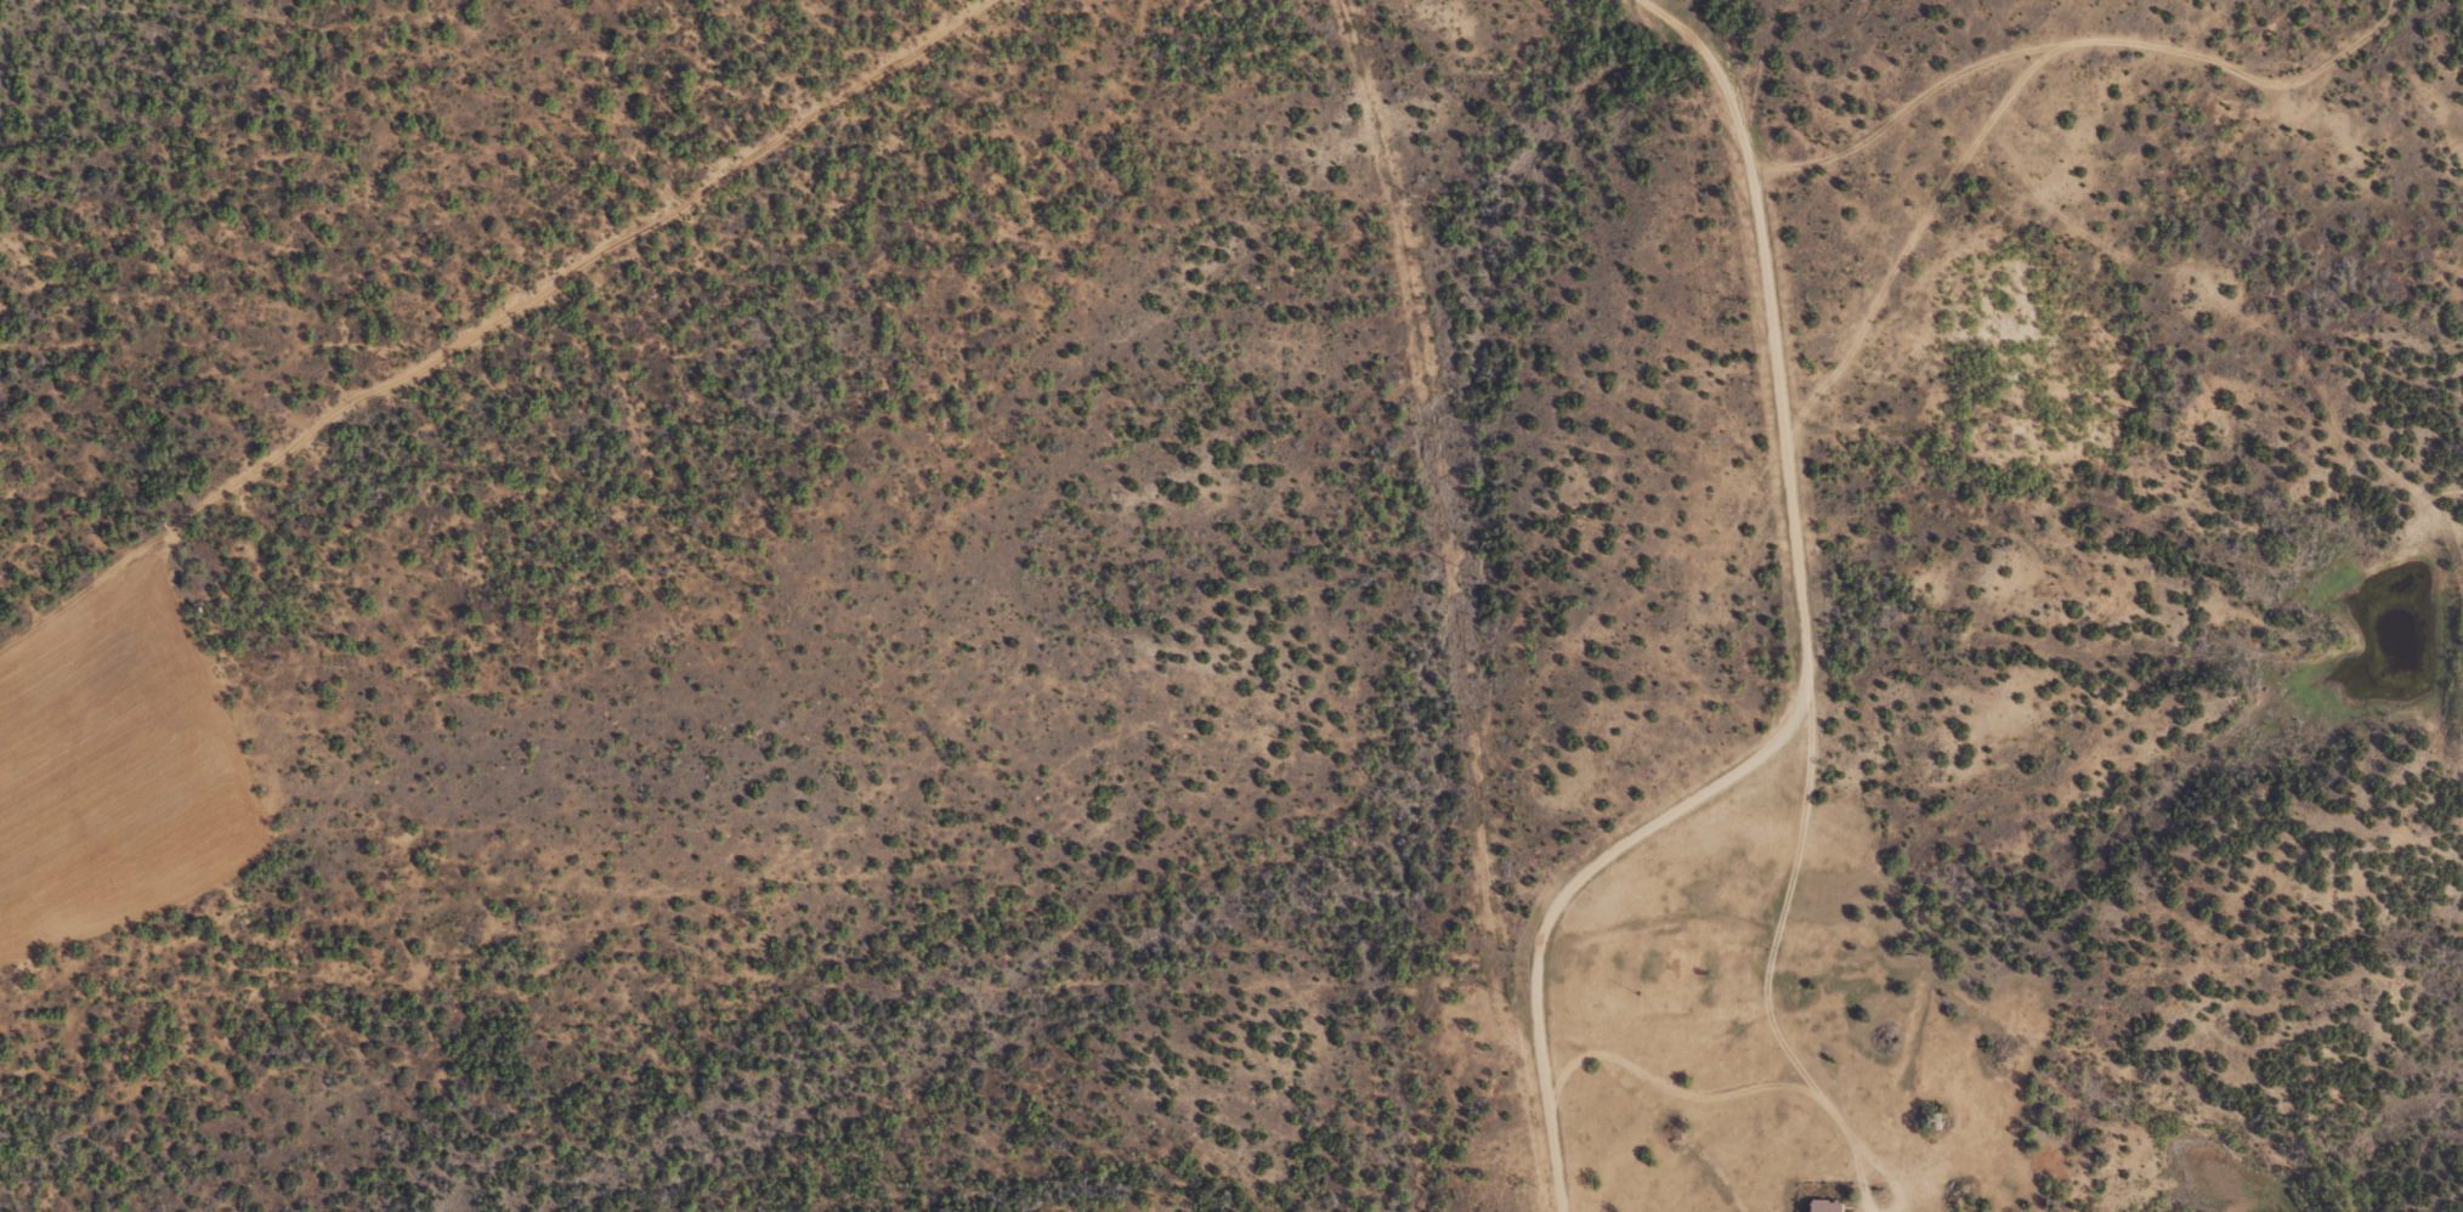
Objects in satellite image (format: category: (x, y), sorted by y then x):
road: (2087, 91)
road: (1794, 584)
road: (1522, 919)
building: (1936, 1120)
building: (1828, 1206)

